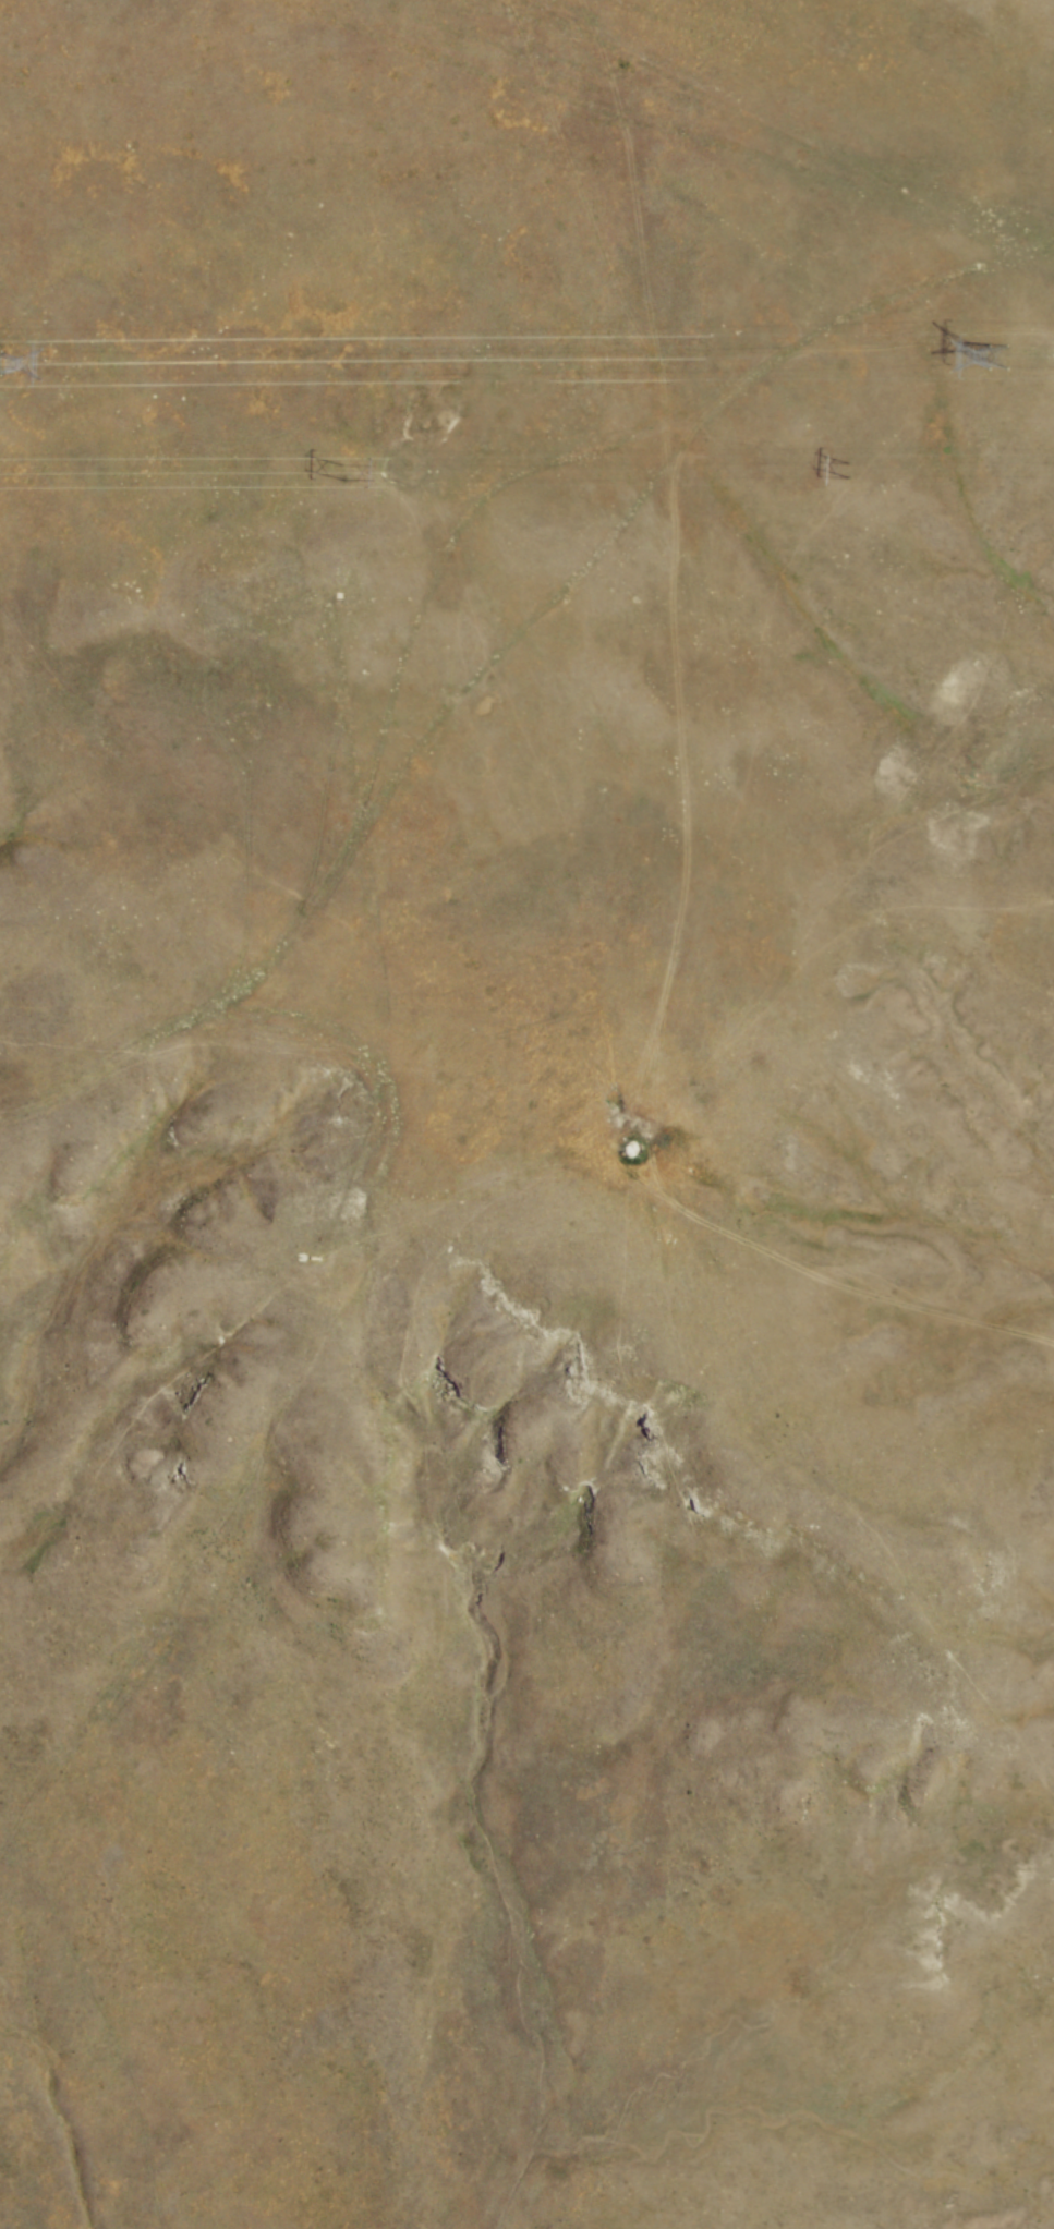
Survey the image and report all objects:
power tower: (996, 355)
power tower: (343, 468)
power tower: (847, 468)

